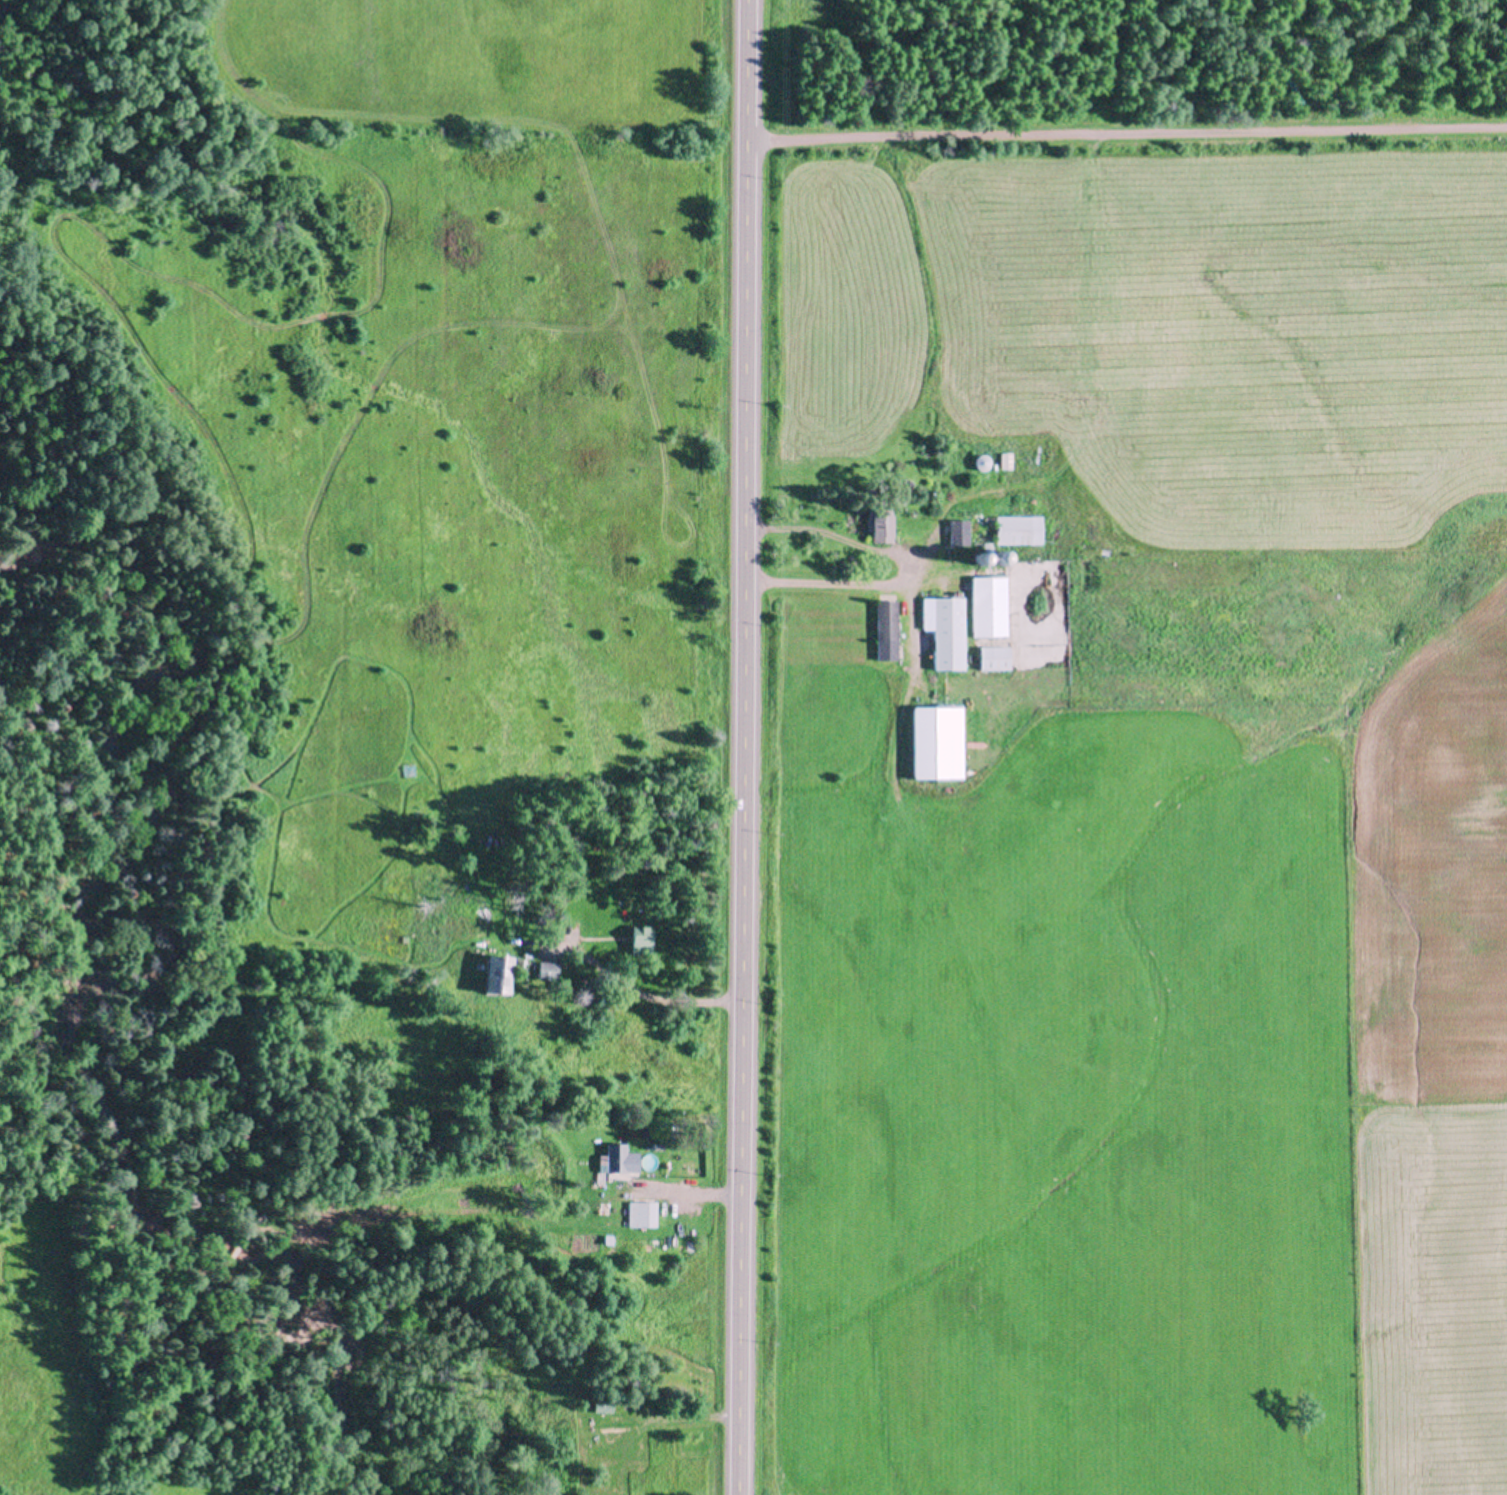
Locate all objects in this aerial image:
road: (1126, 136)
building: (1006, 460)
building: (982, 462)
building: (879, 520)
building: (1019, 529)
building: (958, 531)
building: (987, 546)
building: (999, 556)
building: (980, 558)
road: (897, 571)
building: (989, 604)
building: (945, 628)
building: (886, 631)
building: (994, 657)
building: (938, 741)
road: (742, 747)
building: (408, 769)
crop: (1152, 838)
building: (642, 940)
building: (549, 968)
building: (501, 973)
road: (695, 1001)
building: (615, 1159)
road: (689, 1194)
building: (644, 1214)
building: (604, 1409)

